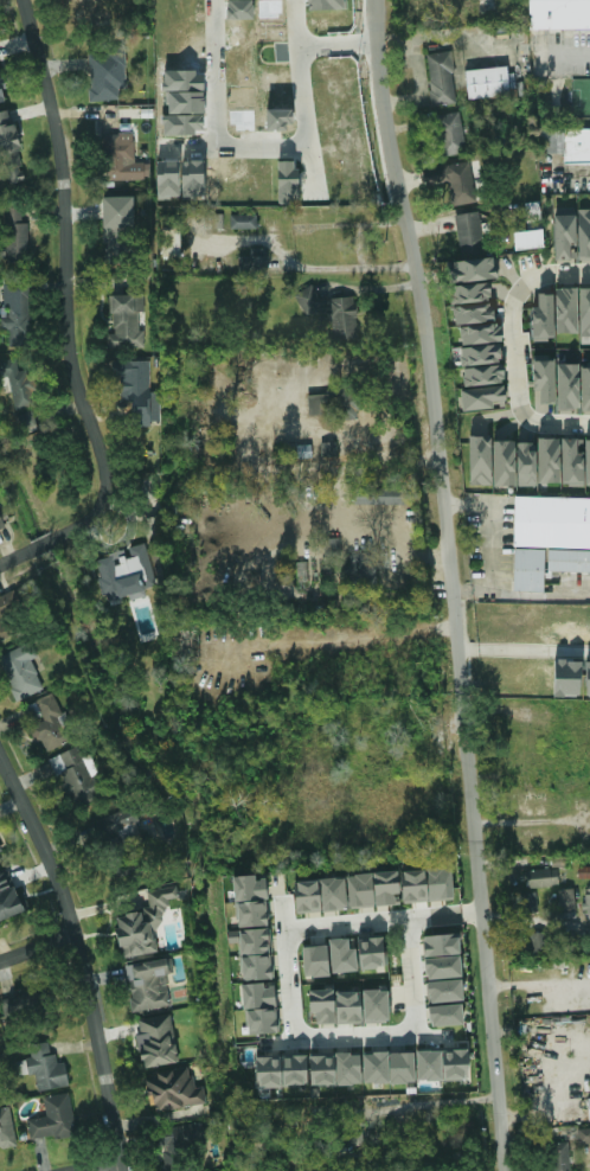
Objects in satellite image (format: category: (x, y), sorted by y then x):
building: (326, 5)
building: (559, 14)
road: (339, 44)
road: (415, 49)
road: (565, 57)
road: (214, 72)
building: (107, 75)
building: (441, 78)
building: (487, 82)
building: (1, 94)
building: (450, 134)
road: (302, 136)
building: (567, 143)
building: (9, 153)
building: (123, 159)
road: (579, 175)
building: (454, 180)
building: (287, 181)
building: (243, 222)
road: (360, 224)
building: (118, 229)
building: (470, 229)
building: (584, 232)
building: (15, 236)
building: (565, 237)
building: (528, 239)
building: (172, 241)
road: (236, 243)
road: (342, 269)
building: (472, 269)
road: (550, 274)
road: (367, 290)
building: (566, 309)
building: (17, 312)
building: (332, 312)
building: (584, 312)
building: (475, 313)
road: (71, 315)
building: (543, 318)
building: (126, 321)
building: (481, 354)
road: (515, 357)
building: (483, 376)
building: (544, 382)
building: (18, 383)
building: (567, 388)
building: (585, 388)
building: (137, 390)
building: (483, 397)
building: (320, 404)
building: (348, 405)
building: (26, 421)
road: (557, 421)
building: (328, 449)
building: (480, 460)
building: (549, 460)
building: (588, 461)
building: (504, 462)
building: (526, 463)
building: (571, 463)
building: (381, 495)
road: (331, 521)
building: (552, 521)
building: (1, 524)
road: (489, 526)
building: (569, 561)
building: (363, 568)
building: (528, 570)
building: (127, 574)
road: (455, 583)
road: (522, 594)
road: (345, 639)
road: (526, 648)
building: (21, 672)
building: (567, 678)
building: (588, 678)
building: (52, 723)
building: (78, 776)
road: (514, 821)
building: (129, 828)
building: (0, 851)
building: (541, 877)
building: (427, 884)
building: (373, 889)
building: (320, 895)
building: (8, 898)
building: (566, 900)
building: (251, 901)
building: (530, 902)
building: (588, 903)
road: (514, 917)
road: (397, 922)
building: (143, 923)
building: (569, 940)
building: (538, 942)
road: (40, 948)
road: (84, 949)
building: (371, 952)
building: (255, 954)
building: (342, 956)
building: (442, 956)
building: (315, 961)
building: (148, 985)
building: (444, 991)
building: (322, 1005)
building: (376, 1005)
building: (19, 1006)
building: (261, 1007)
building: (348, 1007)
building: (445, 1015)
road: (347, 1038)
building: (156, 1041)
building: (442, 1064)
building: (44, 1067)
building: (348, 1068)
building: (389, 1068)
building: (322, 1069)
building: (281, 1071)
building: (173, 1090)
building: (589, 1107)
building: (53, 1119)
building: (6, 1127)
building: (348, 1127)
building: (584, 1134)
building: (179, 1145)
building: (559, 1157)
road: (108, 1167)

